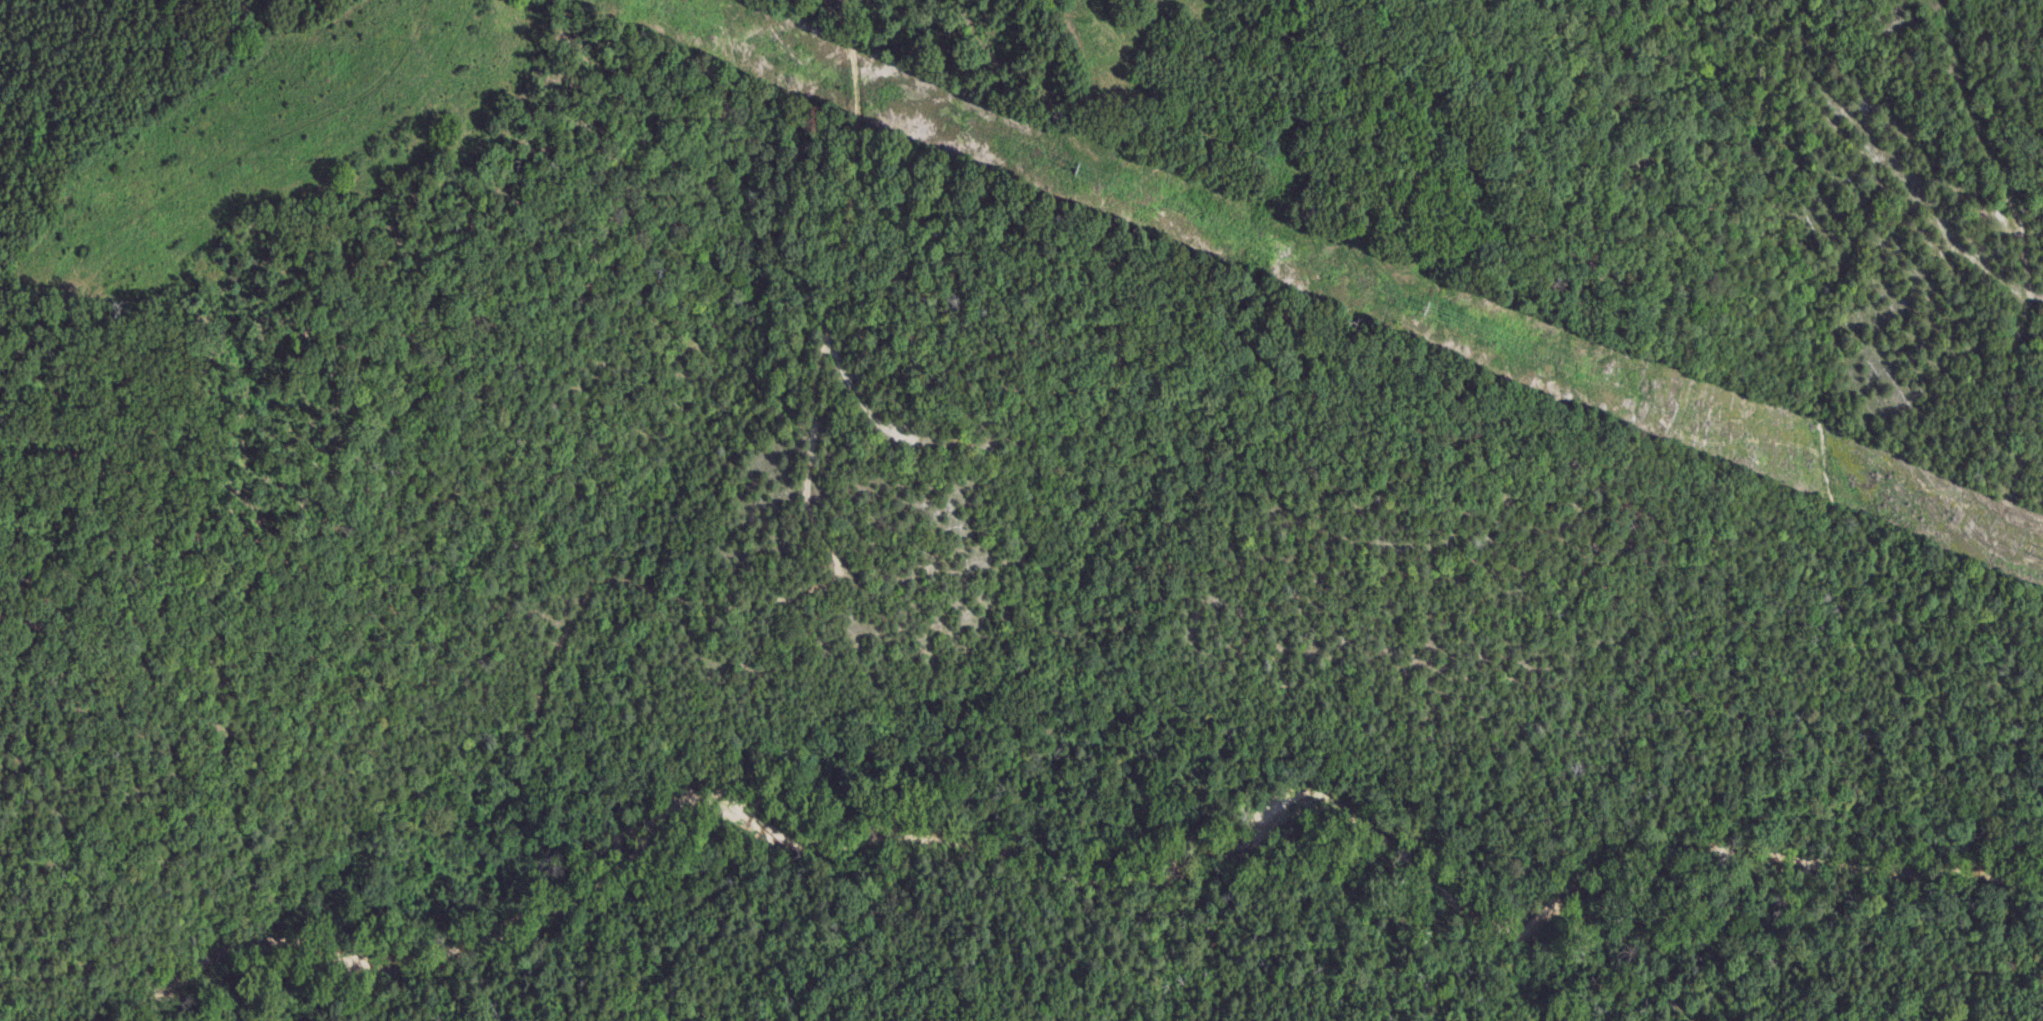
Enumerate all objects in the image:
road: (283, 166)
power tower: (1077, 169)
power tower: (1429, 308)

